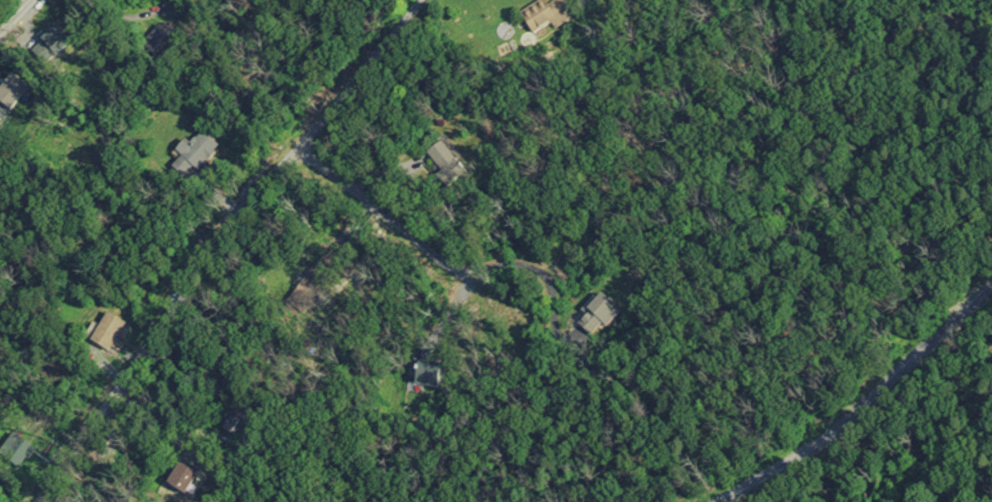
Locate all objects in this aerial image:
road: (13, 13)
building: (545, 14)
road: (123, 18)
road: (783, 19)
building: (165, 39)
building: (49, 45)
building: (194, 156)
building: (443, 160)
road: (401, 226)
road: (215, 242)
building: (601, 314)
building: (110, 335)
building: (428, 378)
road: (866, 405)
building: (181, 479)

